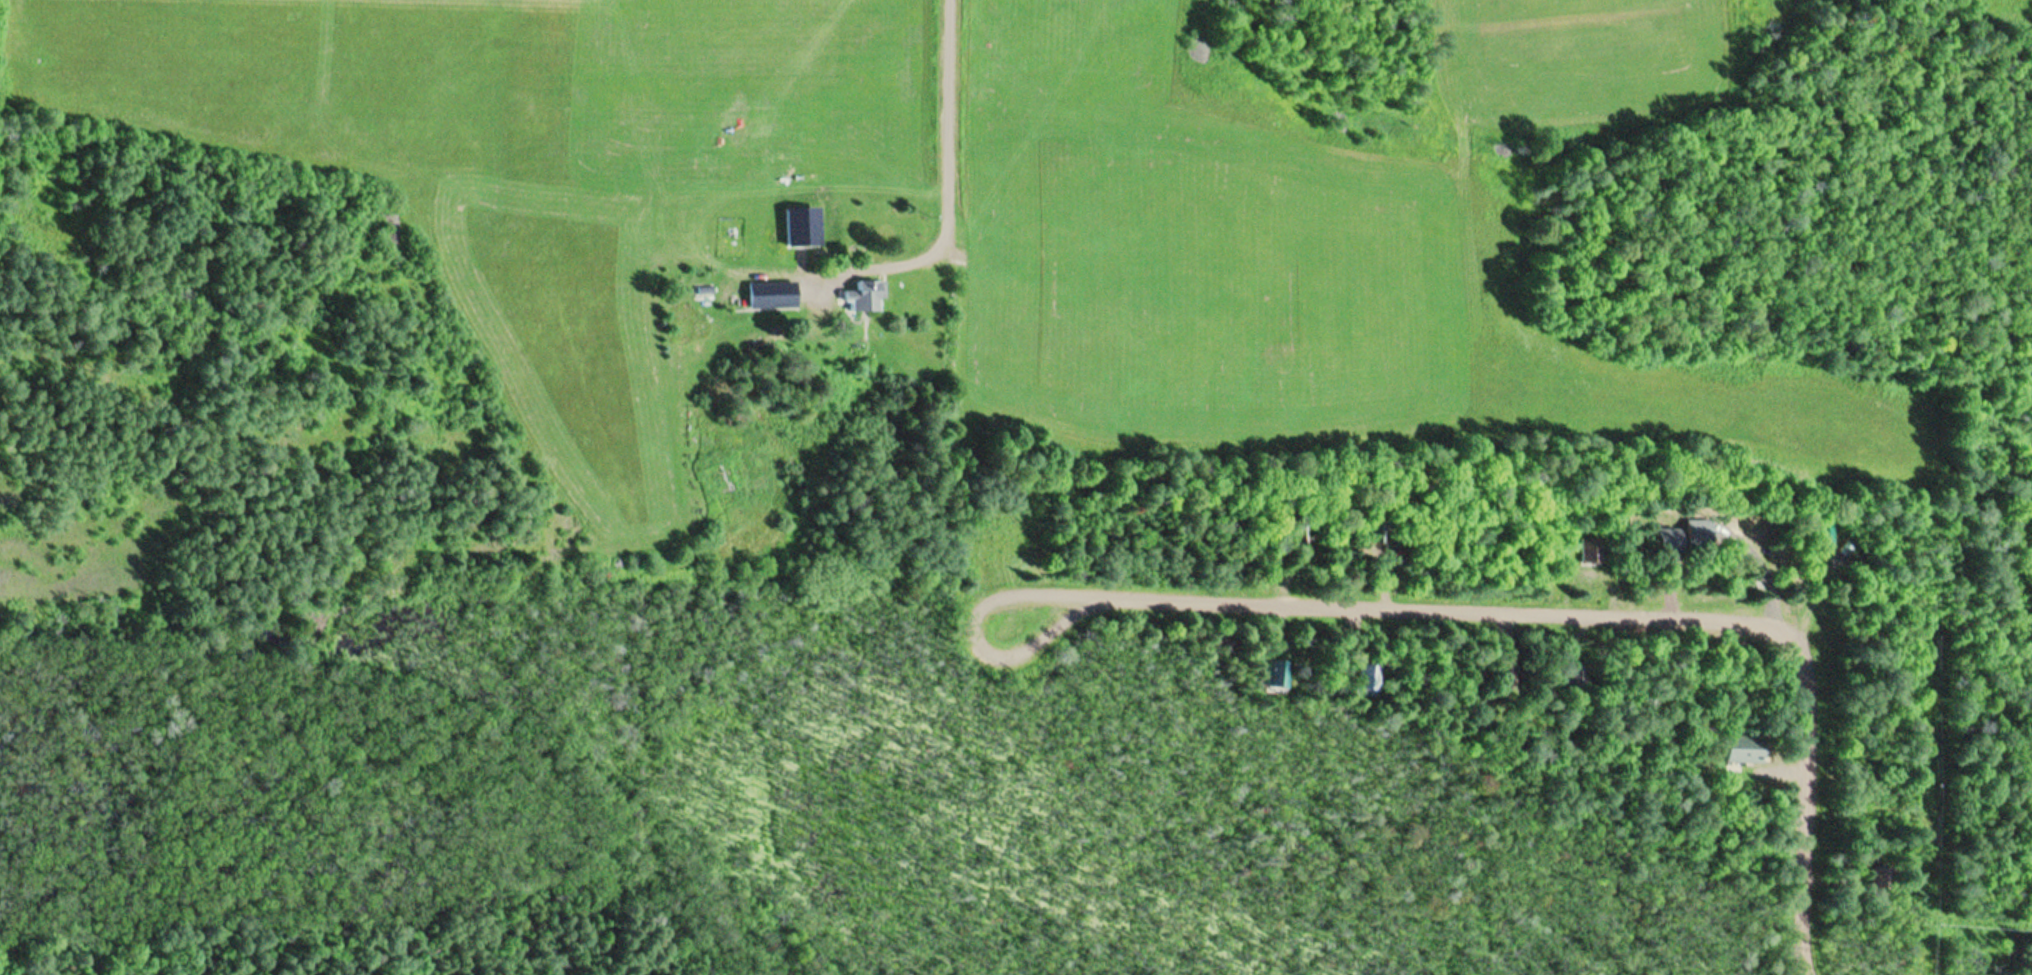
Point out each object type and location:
road: (964, 163)
building: (767, 295)
building: (864, 296)
building: (1297, 532)
building: (1662, 542)
building: (1590, 551)
road: (1421, 608)
building: (1501, 673)
building: (1279, 674)
building: (1371, 677)
building: (1575, 678)
building: (1739, 749)
road: (1782, 772)
road: (1810, 814)
building: (1878, 877)

